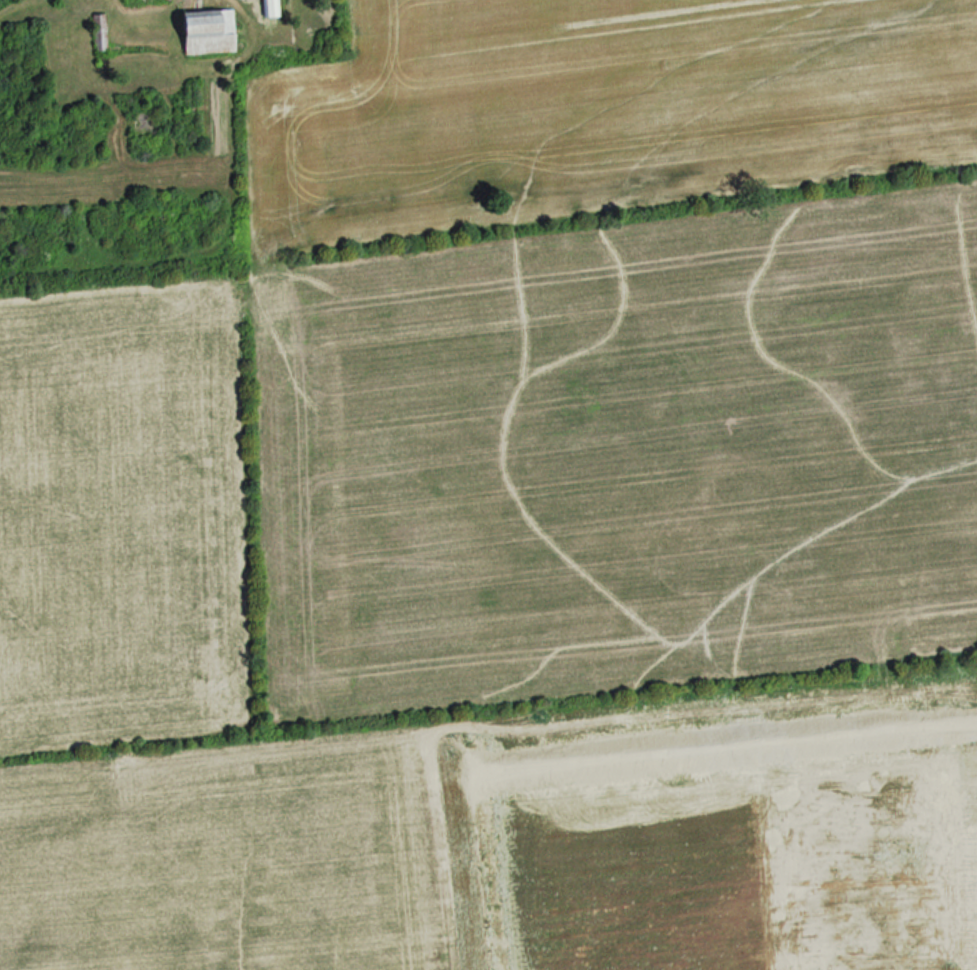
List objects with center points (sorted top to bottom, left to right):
building: (269, 8)
building: (101, 33)
building: (206, 33)

